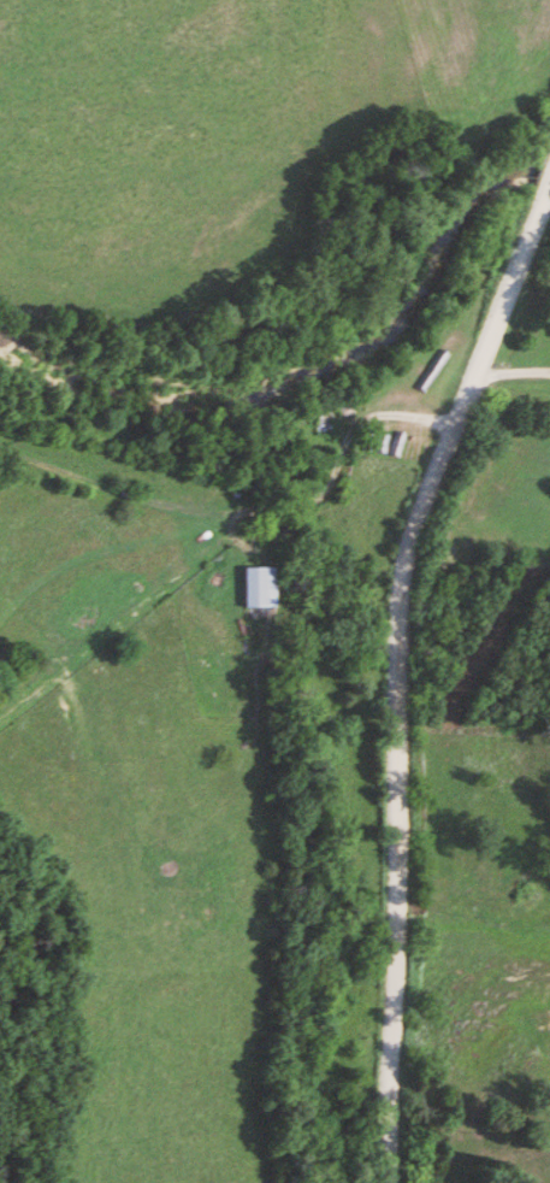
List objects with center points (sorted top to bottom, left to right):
road: (338, 455)
building: (260, 587)
road: (397, 664)
building: (493, 879)

